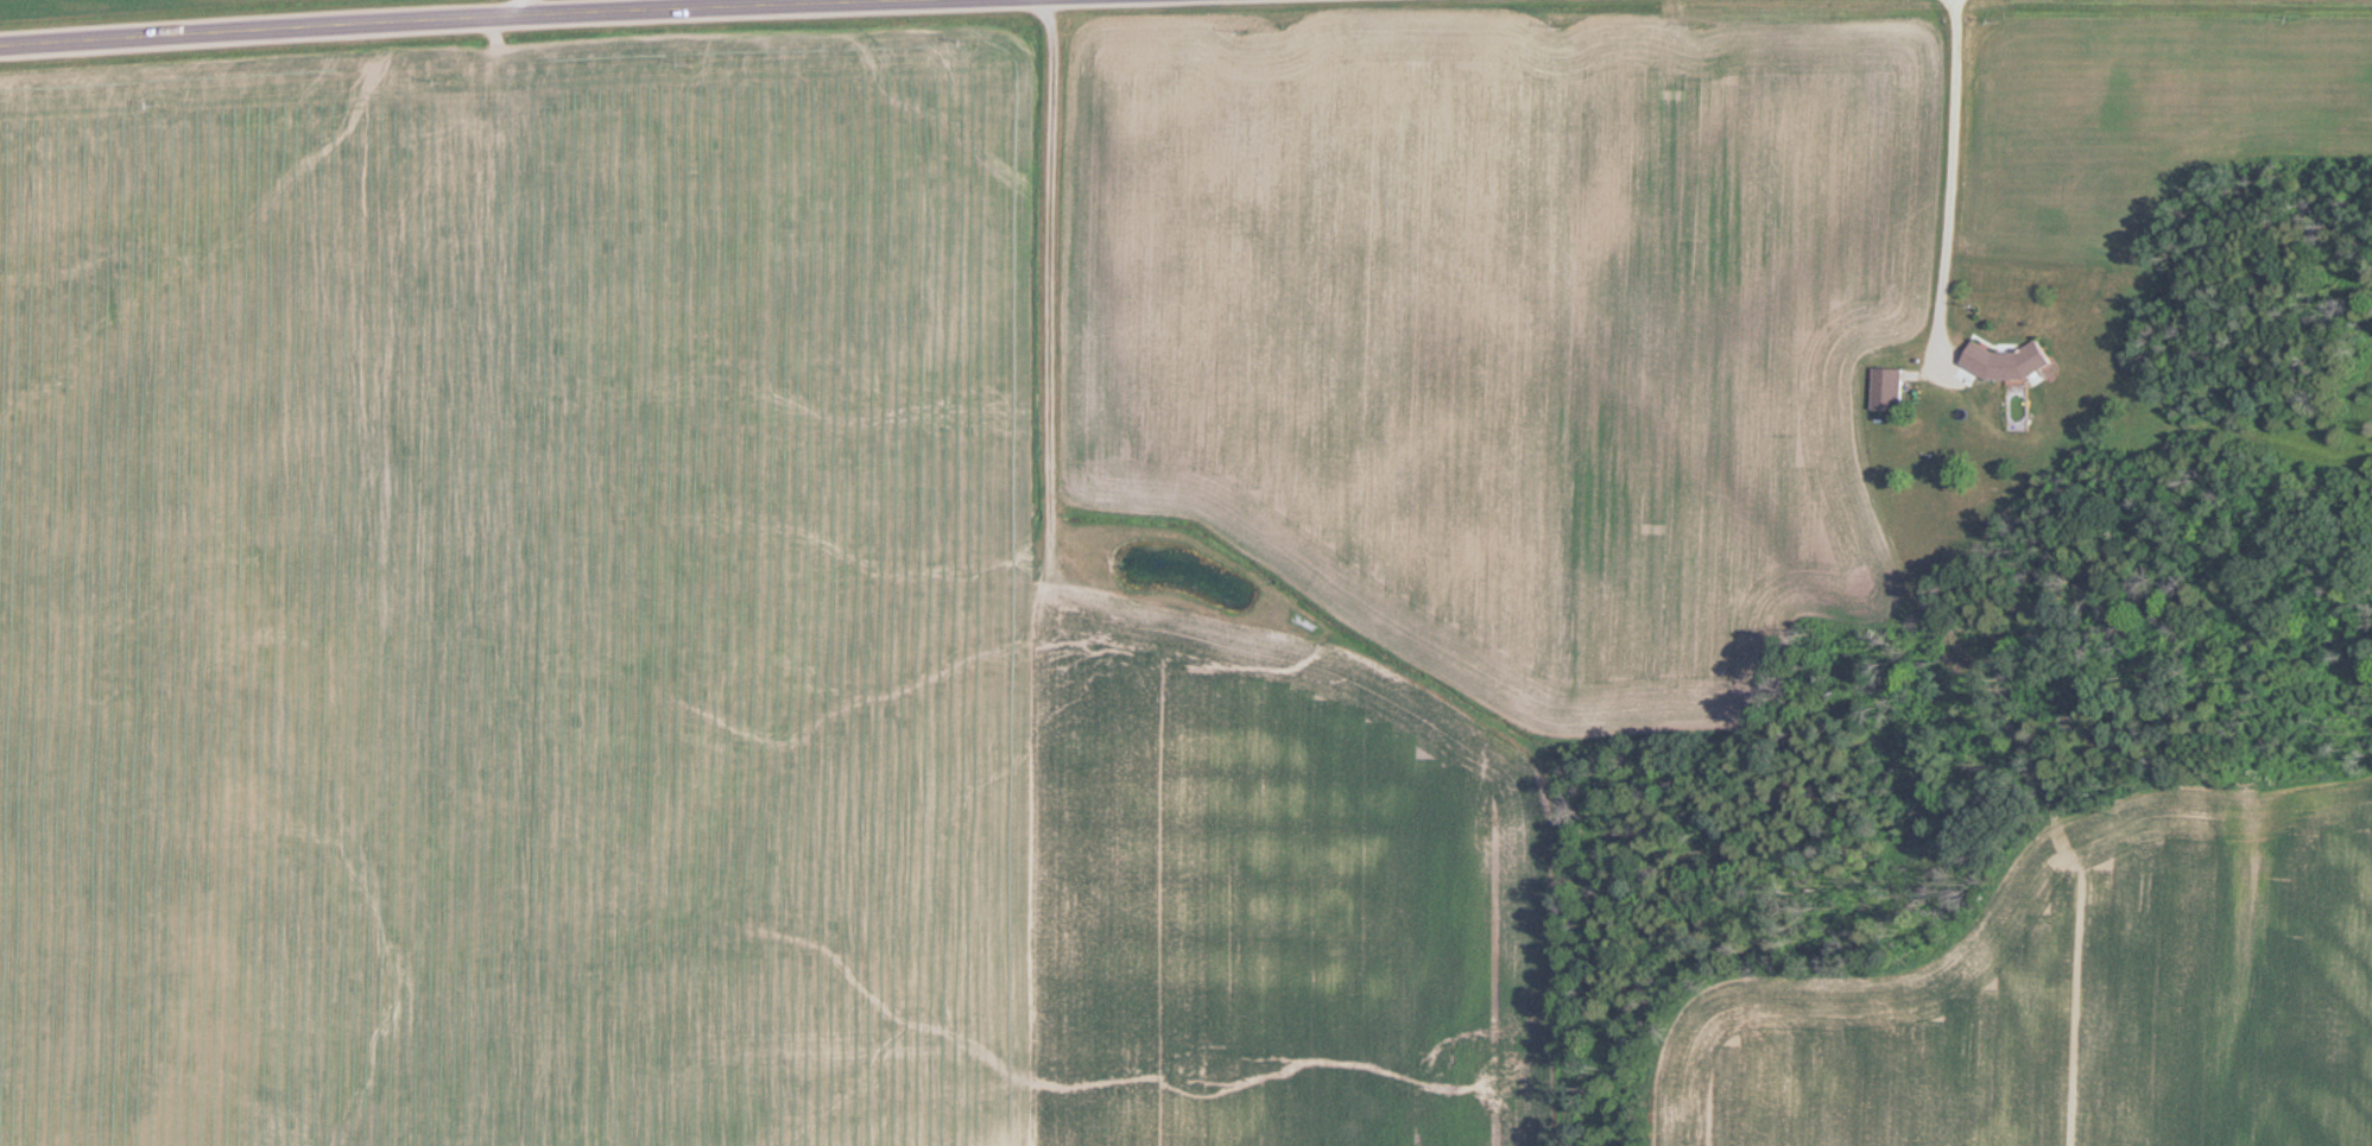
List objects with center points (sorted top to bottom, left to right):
road: (472, 19)
building: (2014, 362)
building: (1893, 391)

